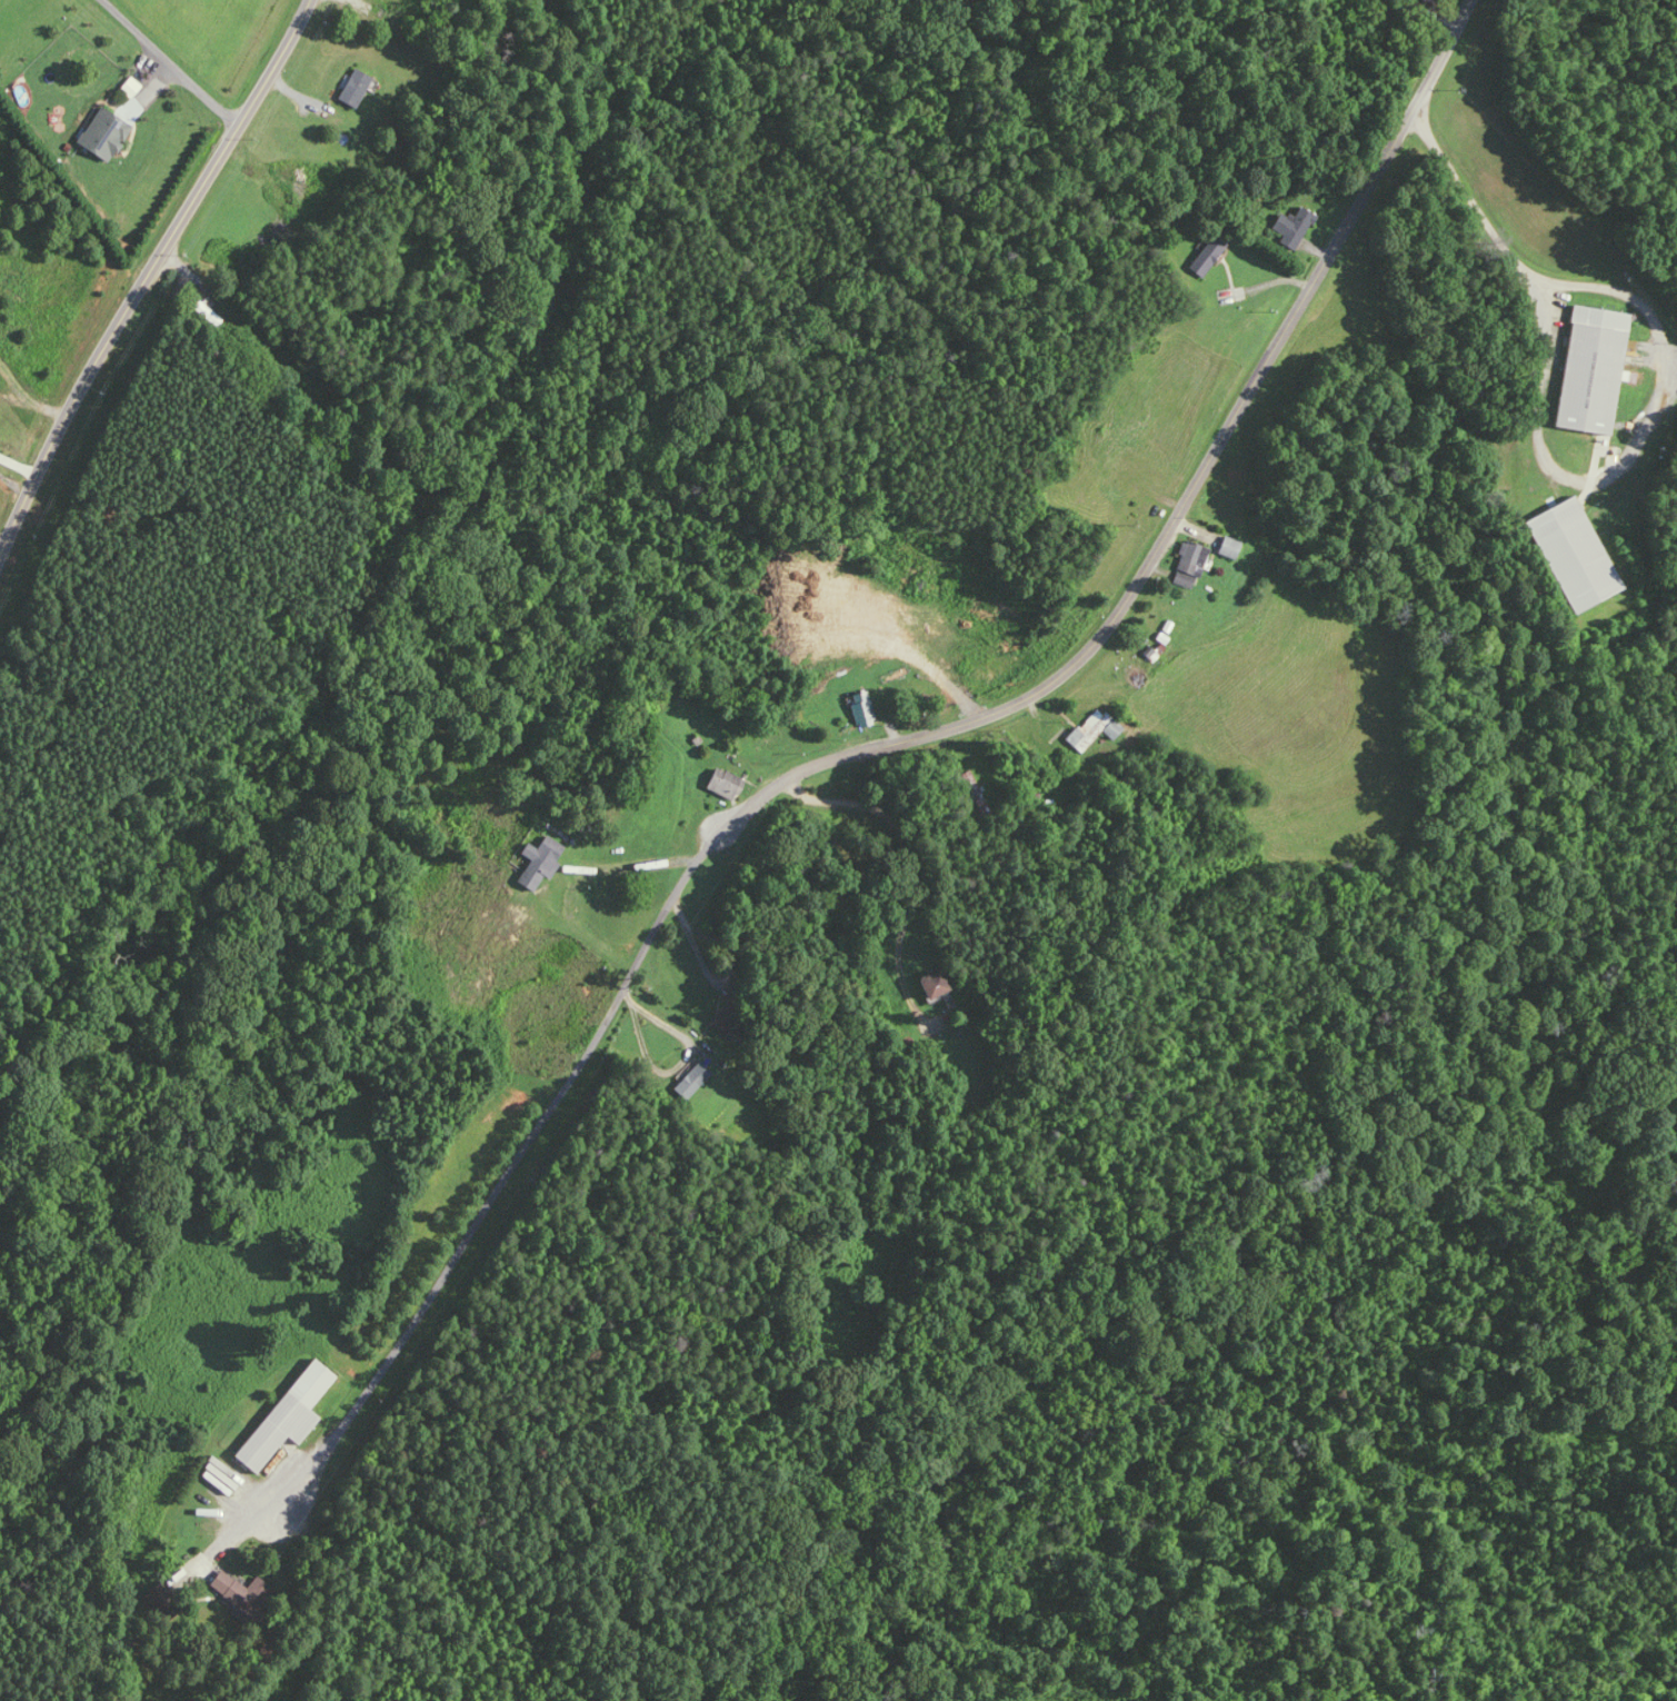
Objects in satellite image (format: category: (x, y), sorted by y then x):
building: (1430, 0)
road: (162, 61)
building: (357, 88)
building: (107, 133)
building: (1295, 227)
road: (1510, 248)
building: (1210, 256)
road: (147, 268)
building: (1594, 369)
road: (17, 465)
building: (1230, 547)
building: (1189, 574)
building: (1587, 583)
building: (864, 708)
building: (1096, 729)
road: (871, 753)
building: (727, 784)
road: (914, 861)
building: (541, 862)
building: (936, 984)
building: (728, 1017)
road: (662, 1022)
building: (693, 1081)
building: (290, 1415)
building: (243, 1591)

